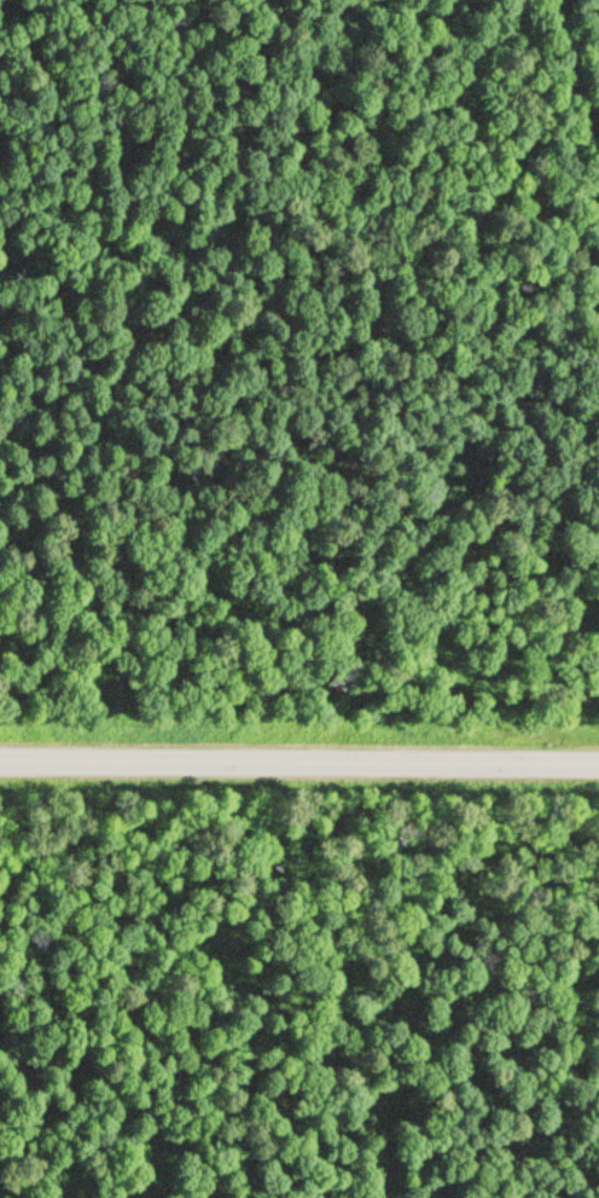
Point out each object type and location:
road: (299, 764)

